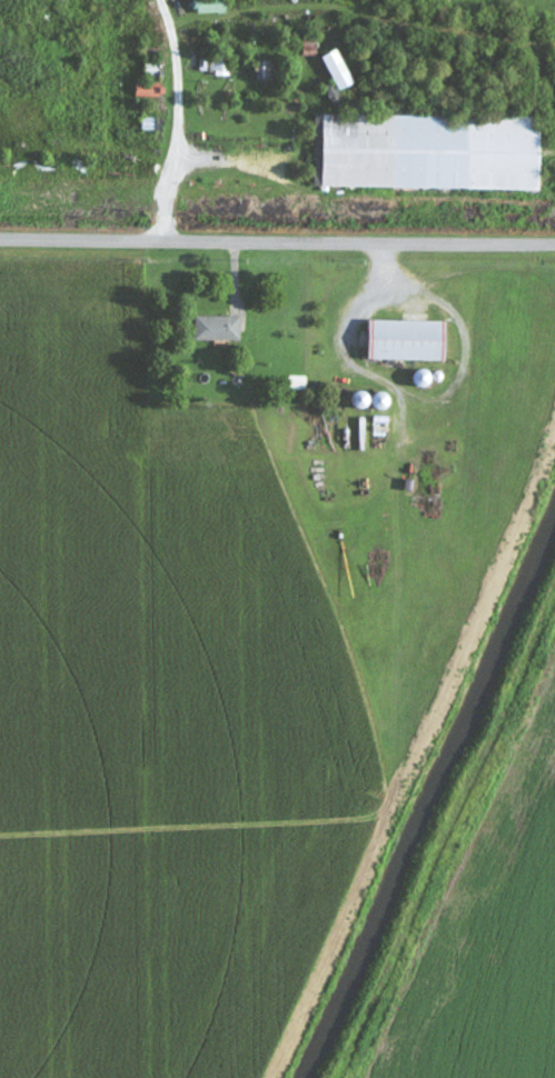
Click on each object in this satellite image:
building: (212, 9)
building: (217, 66)
building: (264, 70)
building: (339, 70)
building: (147, 90)
building: (149, 124)
building: (428, 152)
road: (277, 241)
building: (218, 329)
building: (407, 341)

